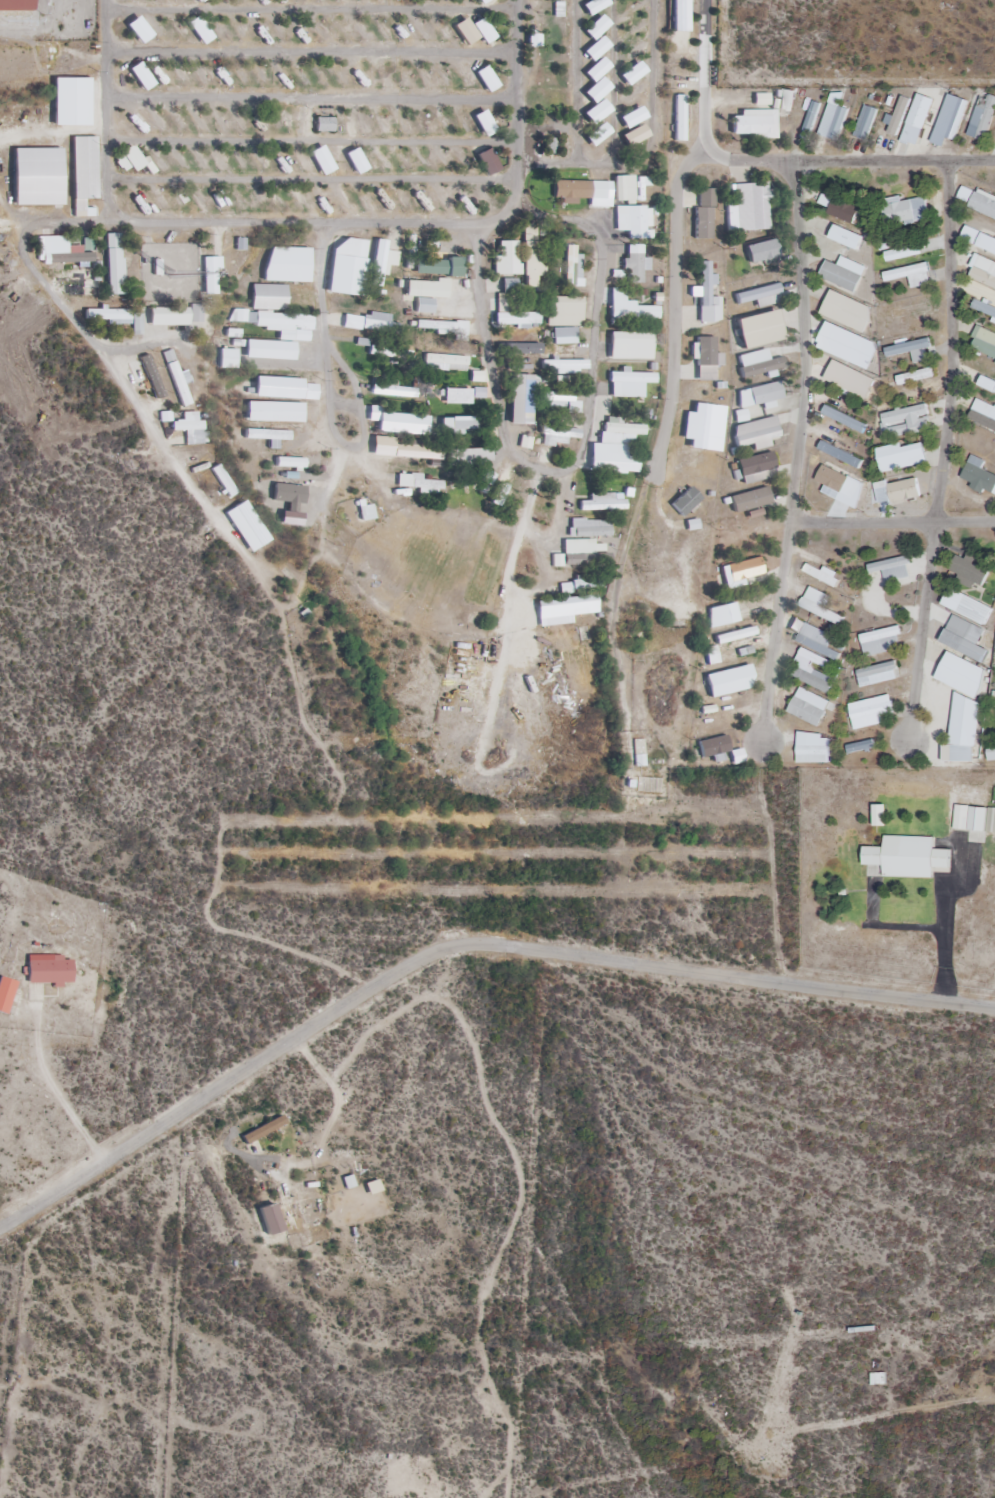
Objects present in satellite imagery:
building: (16, 5)
road: (312, 7)
building: (678, 16)
road: (312, 52)
road: (577, 82)
road: (614, 82)
building: (640, 91)
road: (311, 97)
road: (516, 100)
building: (785, 100)
building: (813, 113)
building: (950, 116)
building: (982, 116)
building: (899, 117)
building: (679, 118)
building: (833, 118)
building: (754, 123)
building: (865, 123)
building: (324, 124)
road: (25, 134)
building: (596, 134)
road: (312, 141)
road: (650, 142)
building: (550, 145)
road: (845, 160)
road: (61, 168)
building: (83, 171)
road: (313, 179)
building: (640, 186)
building: (579, 189)
building: (983, 203)
building: (751, 207)
building: (841, 209)
building: (905, 212)
building: (704, 213)
road: (184, 220)
building: (634, 221)
road: (67, 223)
road: (676, 232)
building: (846, 237)
building: (377, 247)
building: (761, 251)
building: (907, 251)
building: (533, 253)
building: (64, 254)
building: (506, 258)
building: (571, 260)
building: (634, 263)
building: (114, 264)
building: (287, 264)
building: (347, 266)
building: (438, 266)
building: (984, 271)
building: (843, 273)
building: (208, 275)
building: (910, 275)
building: (84, 284)
building: (505, 286)
building: (425, 293)
building: (268, 296)
building: (707, 296)
building: (760, 296)
building: (629, 307)
building: (983, 308)
building: (910, 310)
building: (563, 311)
building: (847, 311)
building: (196, 313)
building: (167, 316)
building: (118, 318)
building: (516, 319)
building: (276, 322)
building: (379, 322)
building: (441, 327)
building: (758, 329)
building: (231, 333)
building: (562, 336)
building: (985, 342)
building: (847, 344)
building: (630, 345)
building: (519, 348)
building: (269, 350)
building: (380, 350)
building: (911, 350)
building: (227, 358)
building: (445, 362)
building: (758, 363)
building: (564, 366)
building: (147, 376)
building: (915, 376)
building: (177, 377)
road: (119, 379)
building: (849, 379)
building: (629, 383)
building: (987, 384)
building: (389, 388)
building: (462, 395)
building: (757, 397)
road: (330, 398)
building: (520, 399)
building: (560, 400)
building: (984, 408)
building: (274, 412)
building: (844, 419)
building: (403, 421)
building: (907, 421)
building: (458, 425)
building: (187, 426)
building: (698, 426)
building: (618, 429)
building: (756, 433)
building: (268, 436)
building: (554, 440)
road: (799, 451)
road: (945, 451)
building: (417, 453)
building: (470, 455)
building: (902, 457)
building: (613, 461)
building: (289, 462)
building: (756, 468)
road: (561, 471)
building: (502, 474)
building: (978, 476)
building: (486, 478)
building: (417, 483)
building: (838, 483)
building: (896, 492)
building: (288, 495)
building: (750, 500)
building: (685, 502)
building: (603, 503)
road: (893, 522)
building: (589, 528)
road: (512, 545)
building: (581, 554)
building: (741, 571)
building: (968, 571)
building: (889, 572)
building: (821, 573)
building: (572, 606)
building: (820, 606)
building: (967, 606)
building: (722, 614)
building: (734, 635)
building: (812, 636)
building: (964, 637)
building: (881, 641)
building: (813, 670)
building: (877, 674)
building: (961, 674)
building: (729, 681)
building: (808, 707)
building: (871, 711)
building: (963, 730)
building: (713, 746)
building: (860, 746)
building: (812, 748)
building: (990, 751)
building: (643, 784)
building: (879, 815)
building: (968, 820)
building: (991, 820)
building: (906, 858)
road: (459, 946)
building: (49, 970)
building: (6, 994)
building: (268, 1219)

